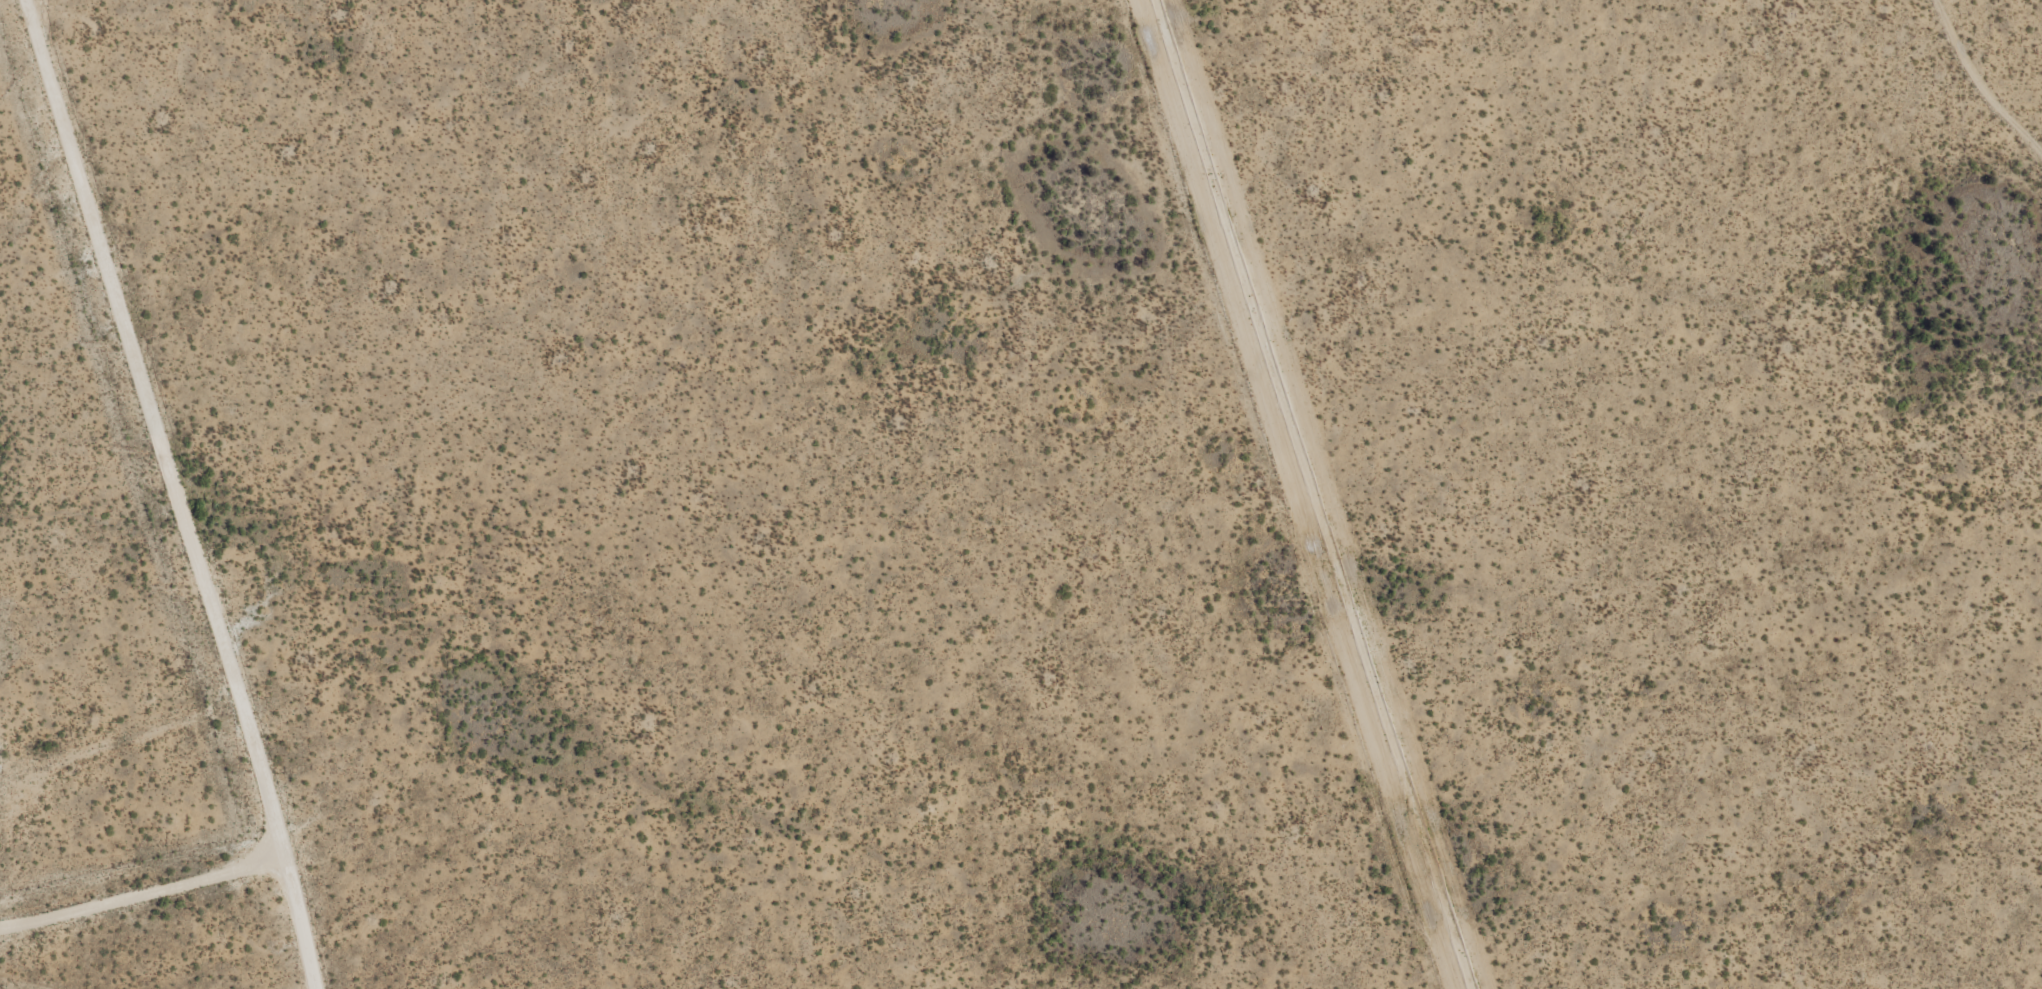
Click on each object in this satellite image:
road: (1984, 98)
road: (172, 493)
road: (140, 894)

